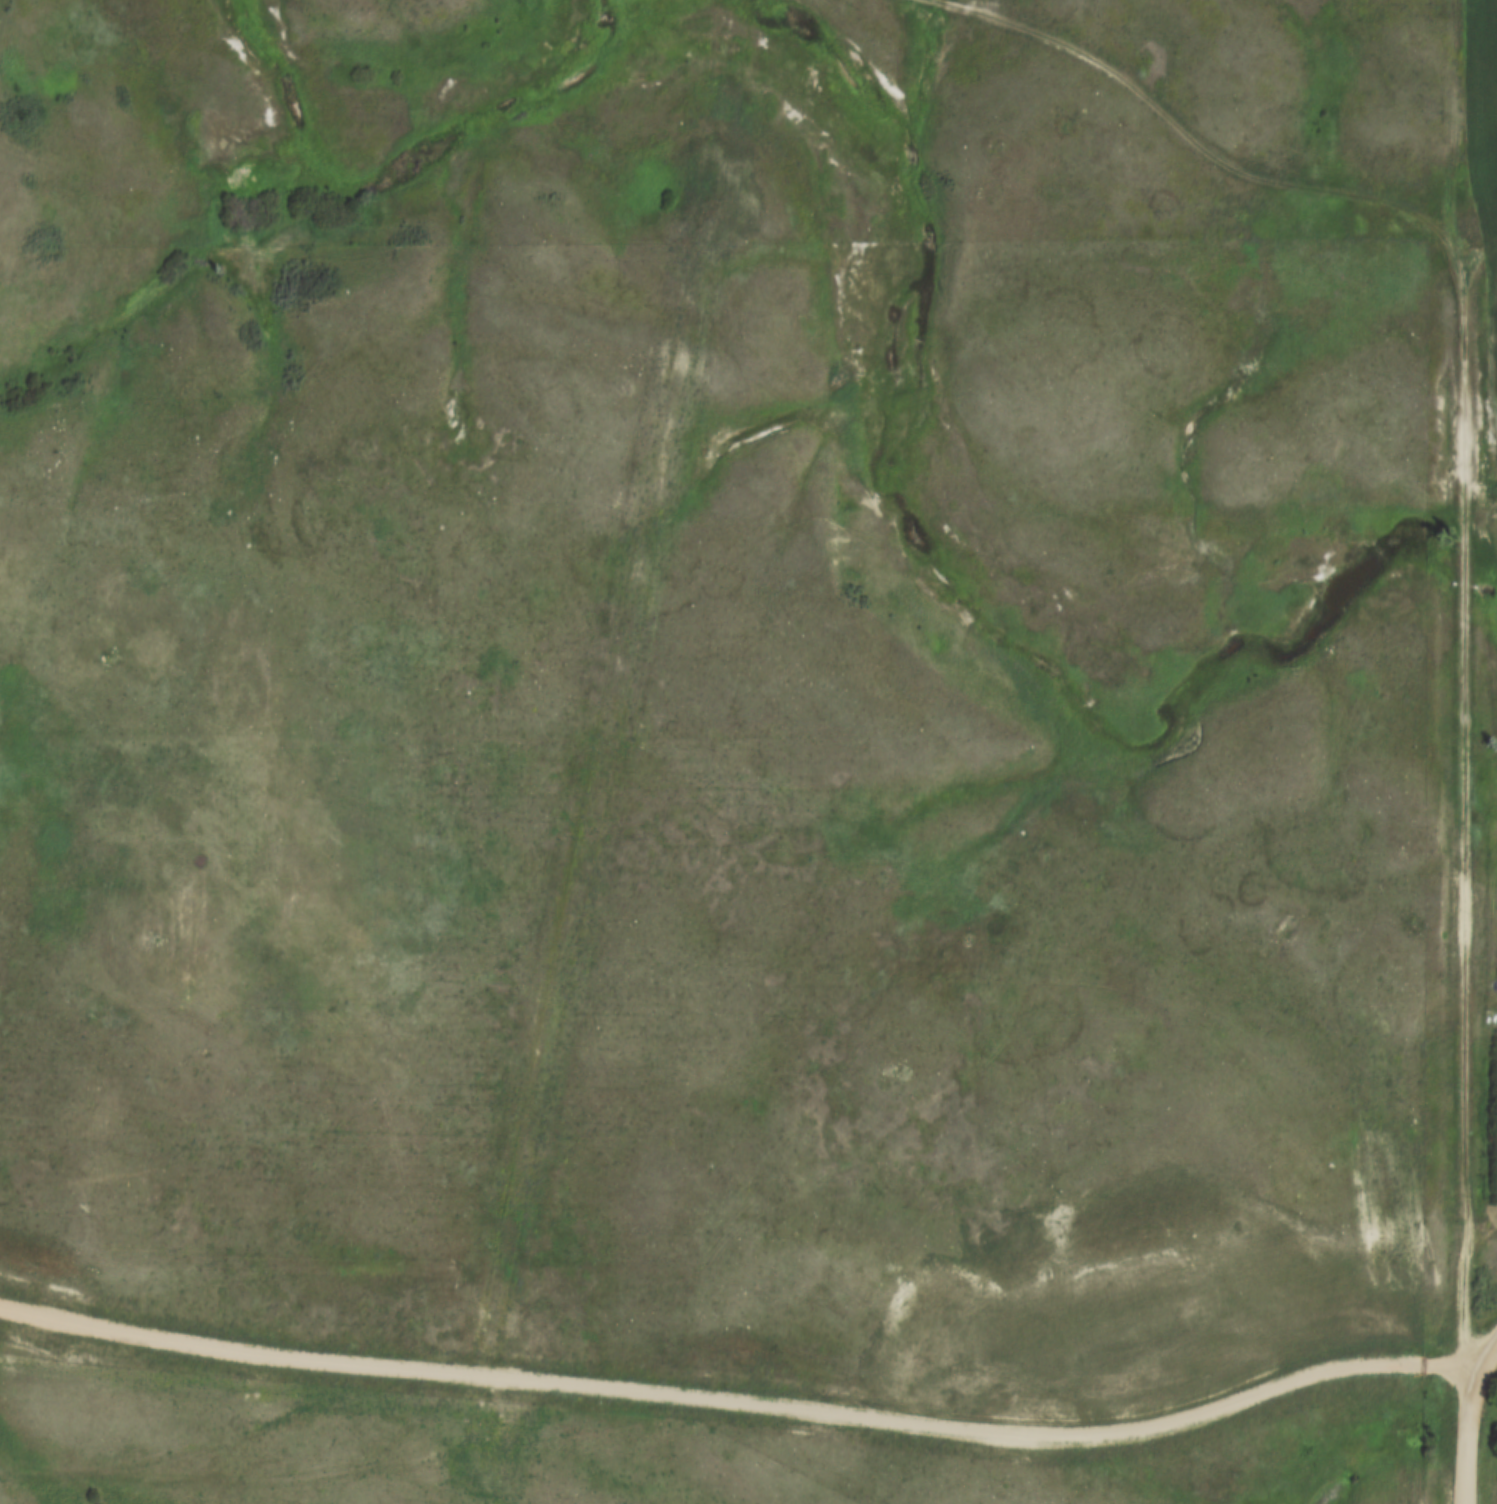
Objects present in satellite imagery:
road: (747, 1402)
road: (1470, 1420)

